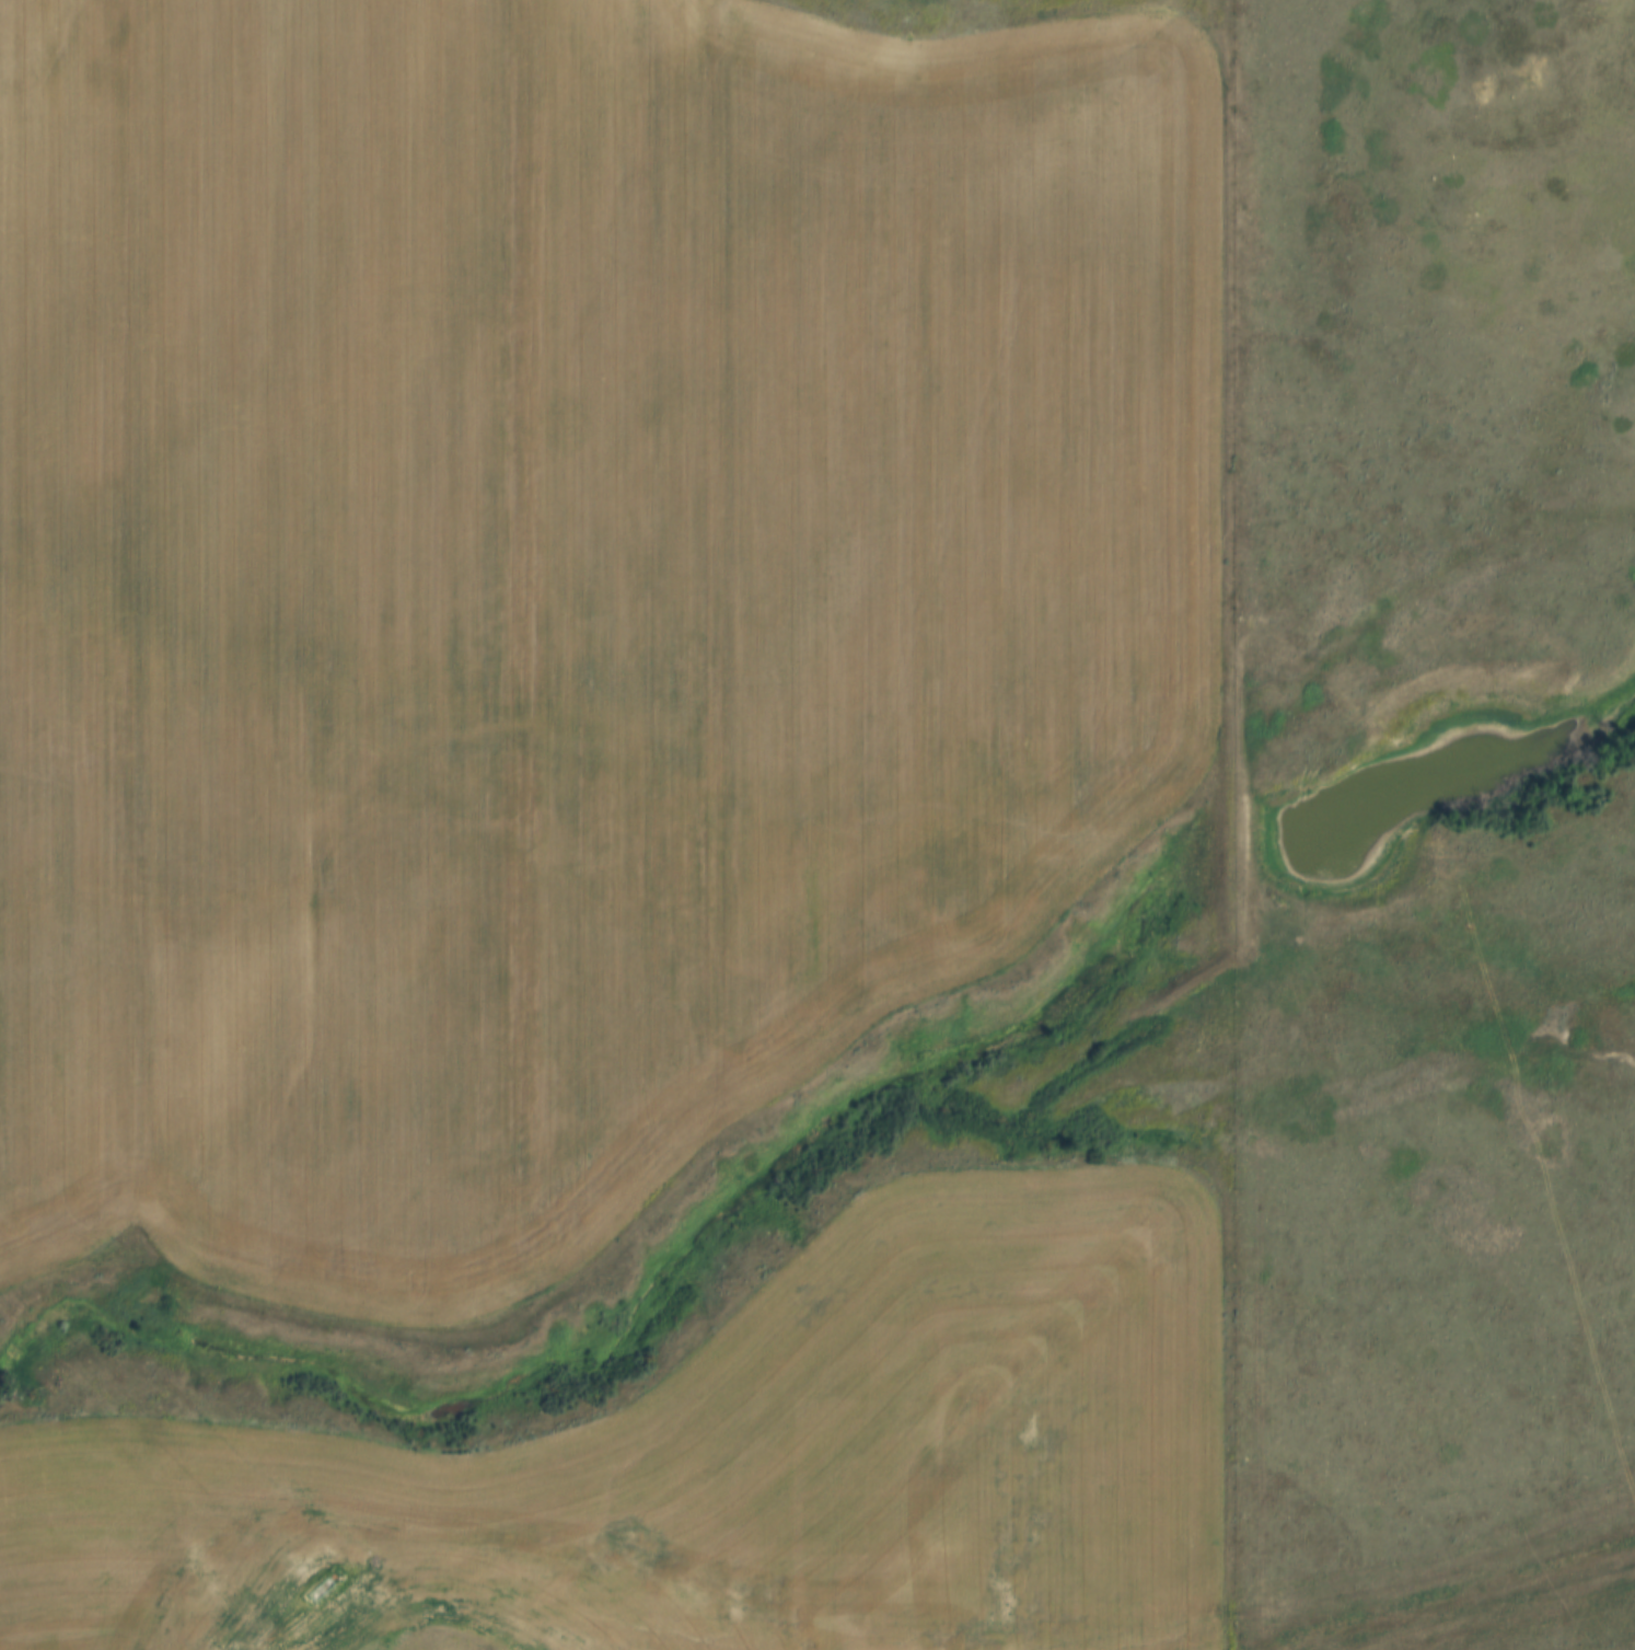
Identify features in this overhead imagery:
road: (392, 1332)

